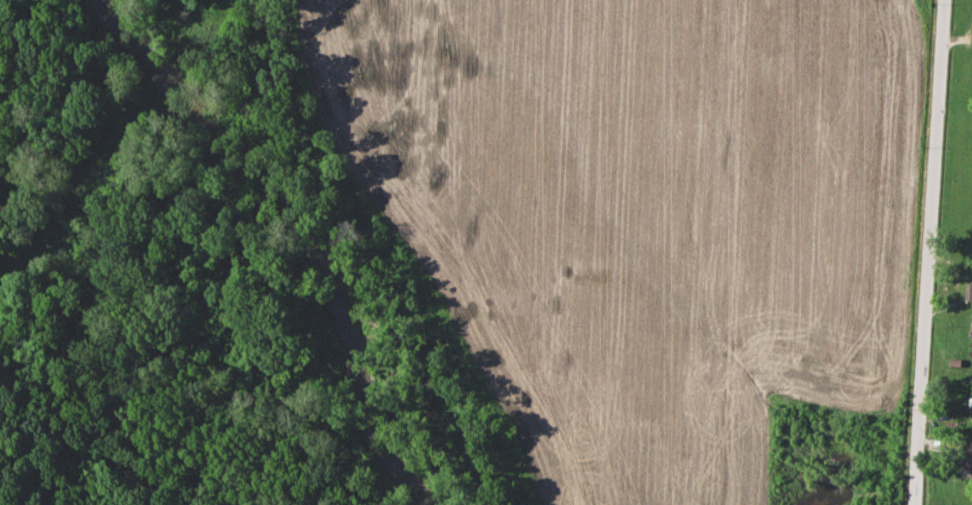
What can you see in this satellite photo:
river: (300, 229)
road: (933, 252)
building: (970, 292)
building: (967, 457)

